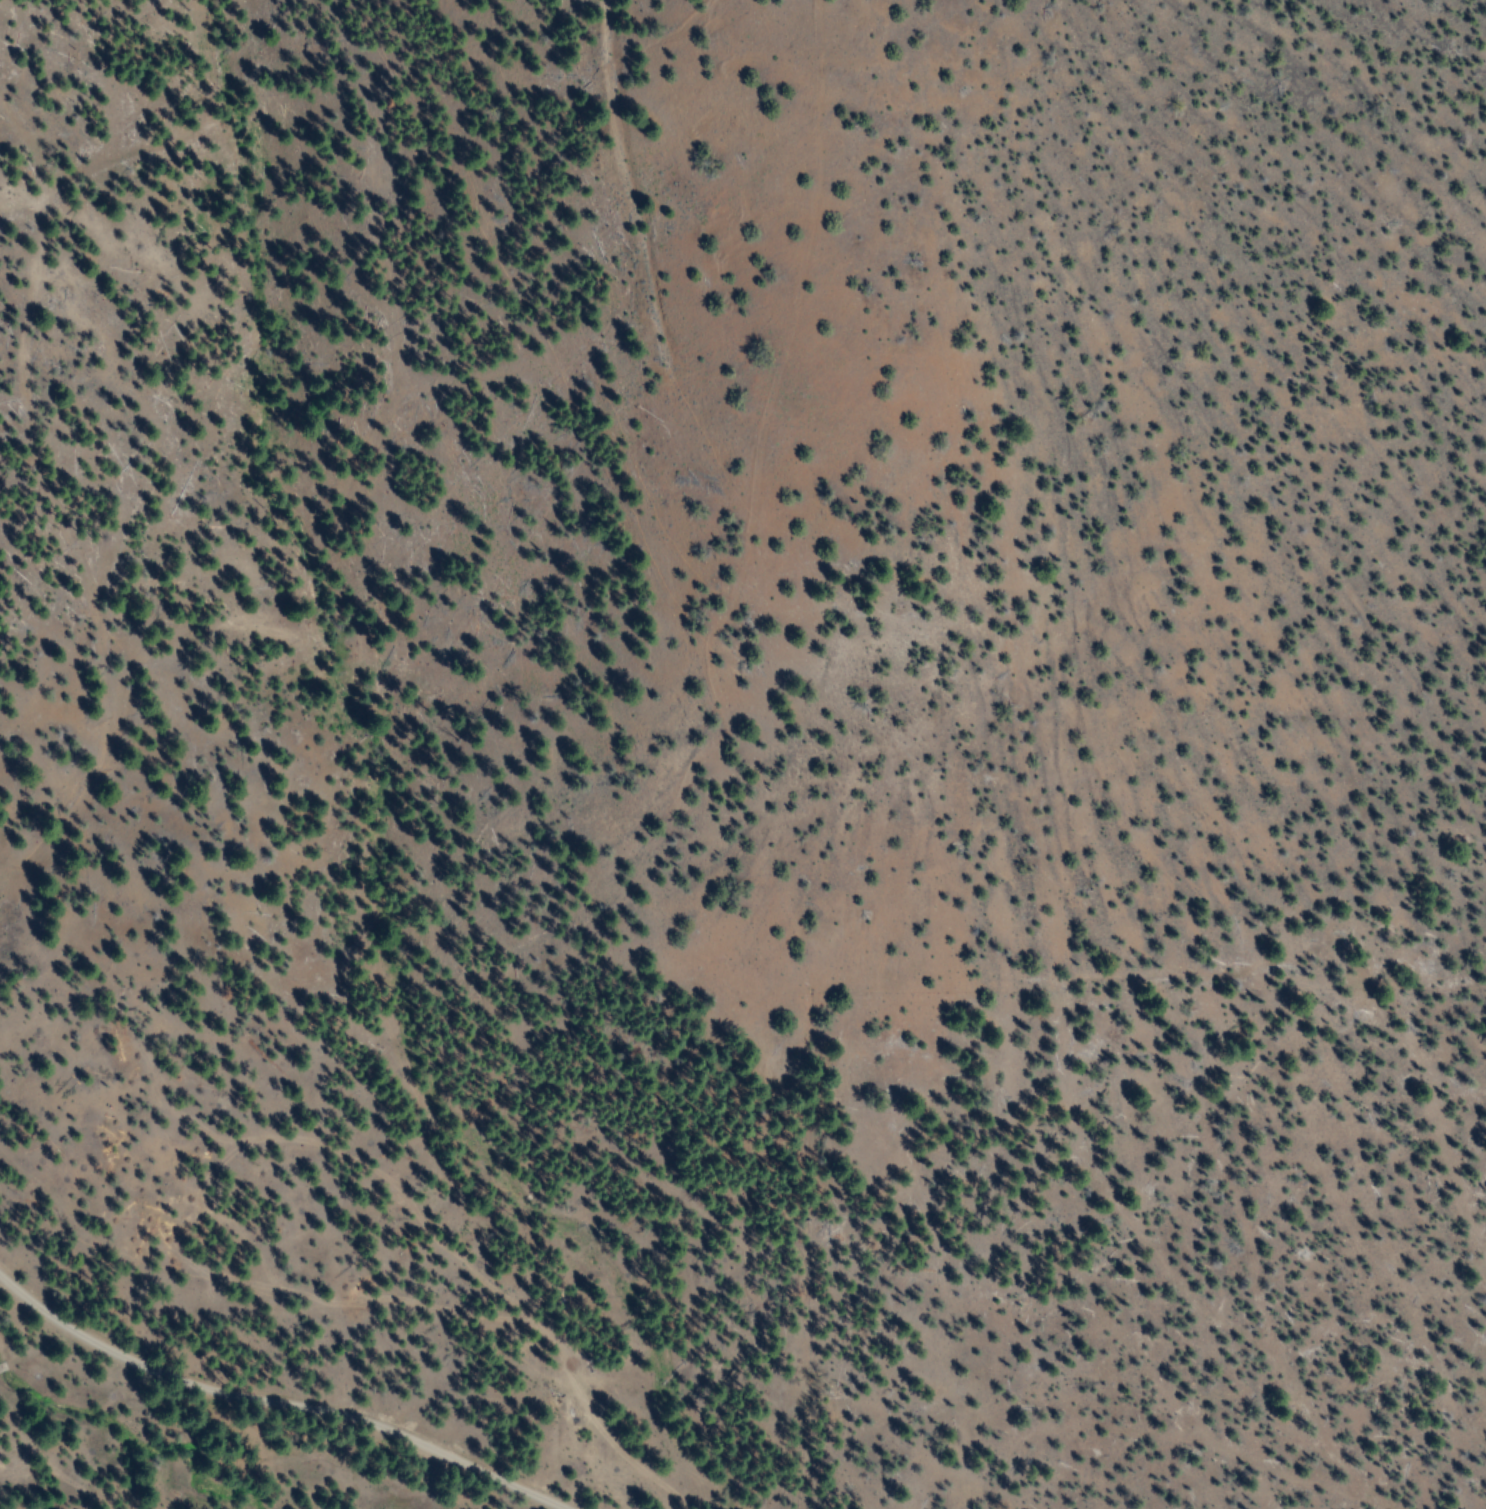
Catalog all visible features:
road: (251, 1414)

